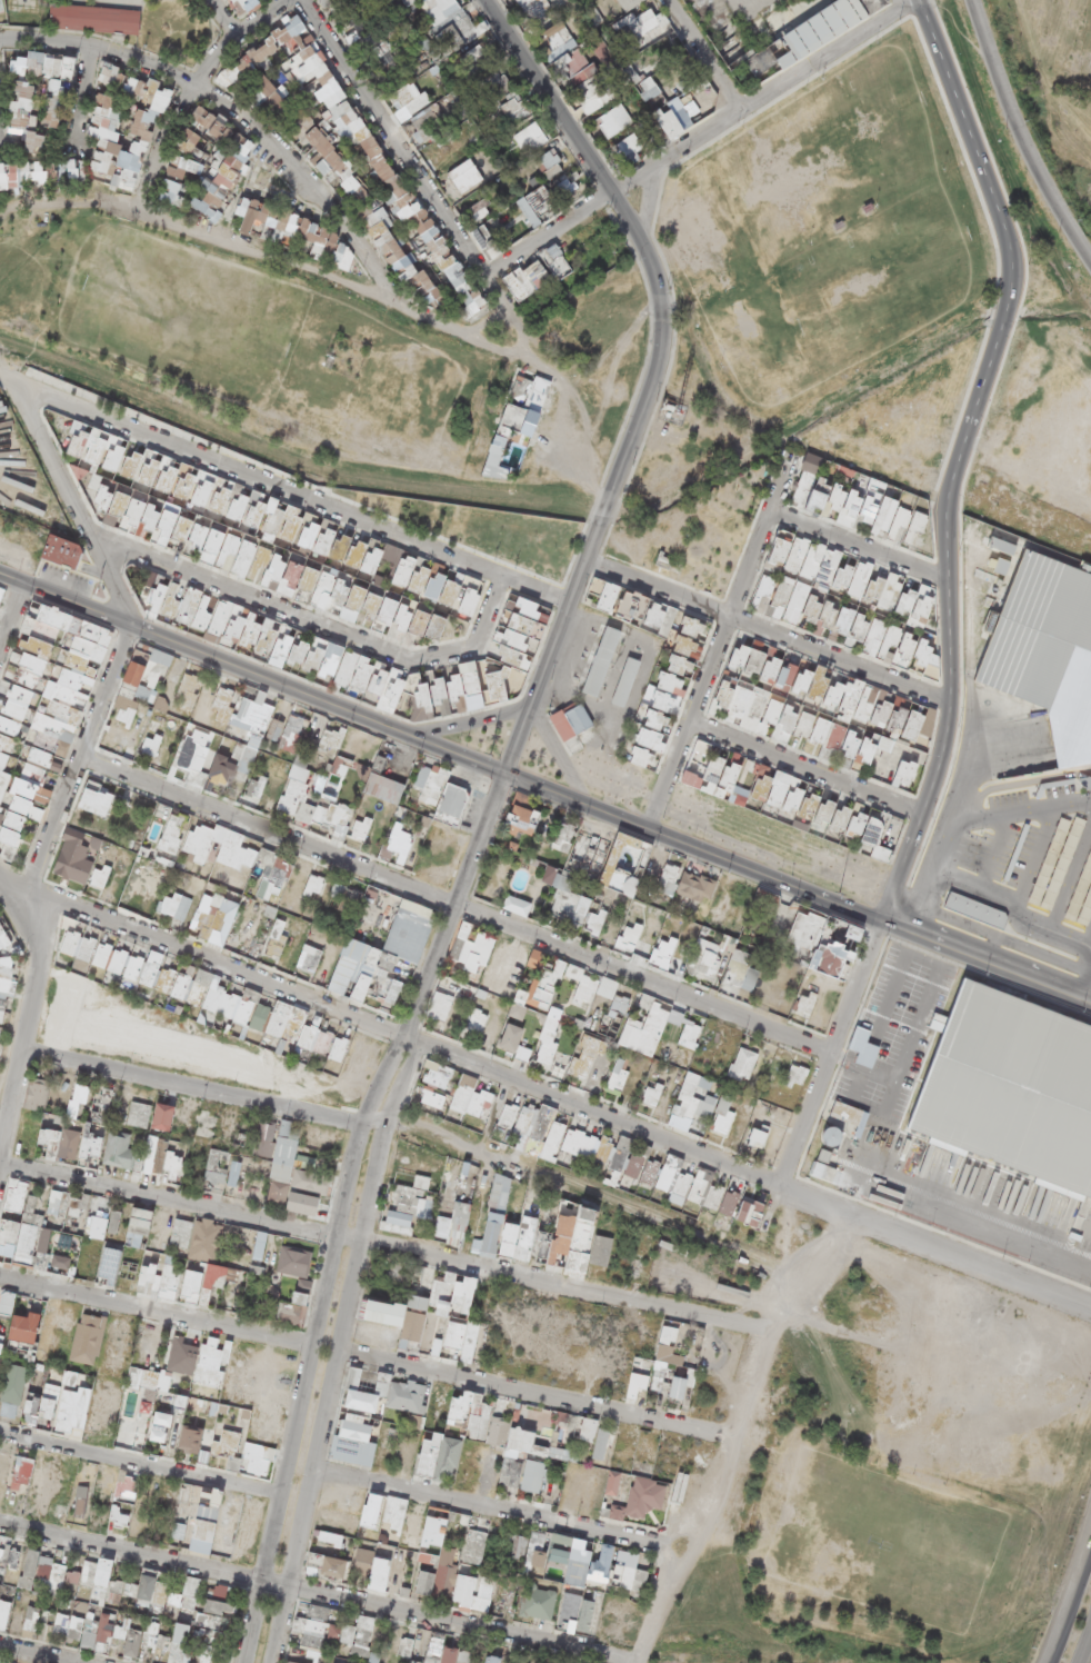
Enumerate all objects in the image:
road: (1068, 1592)
road: (1083, 1642)

